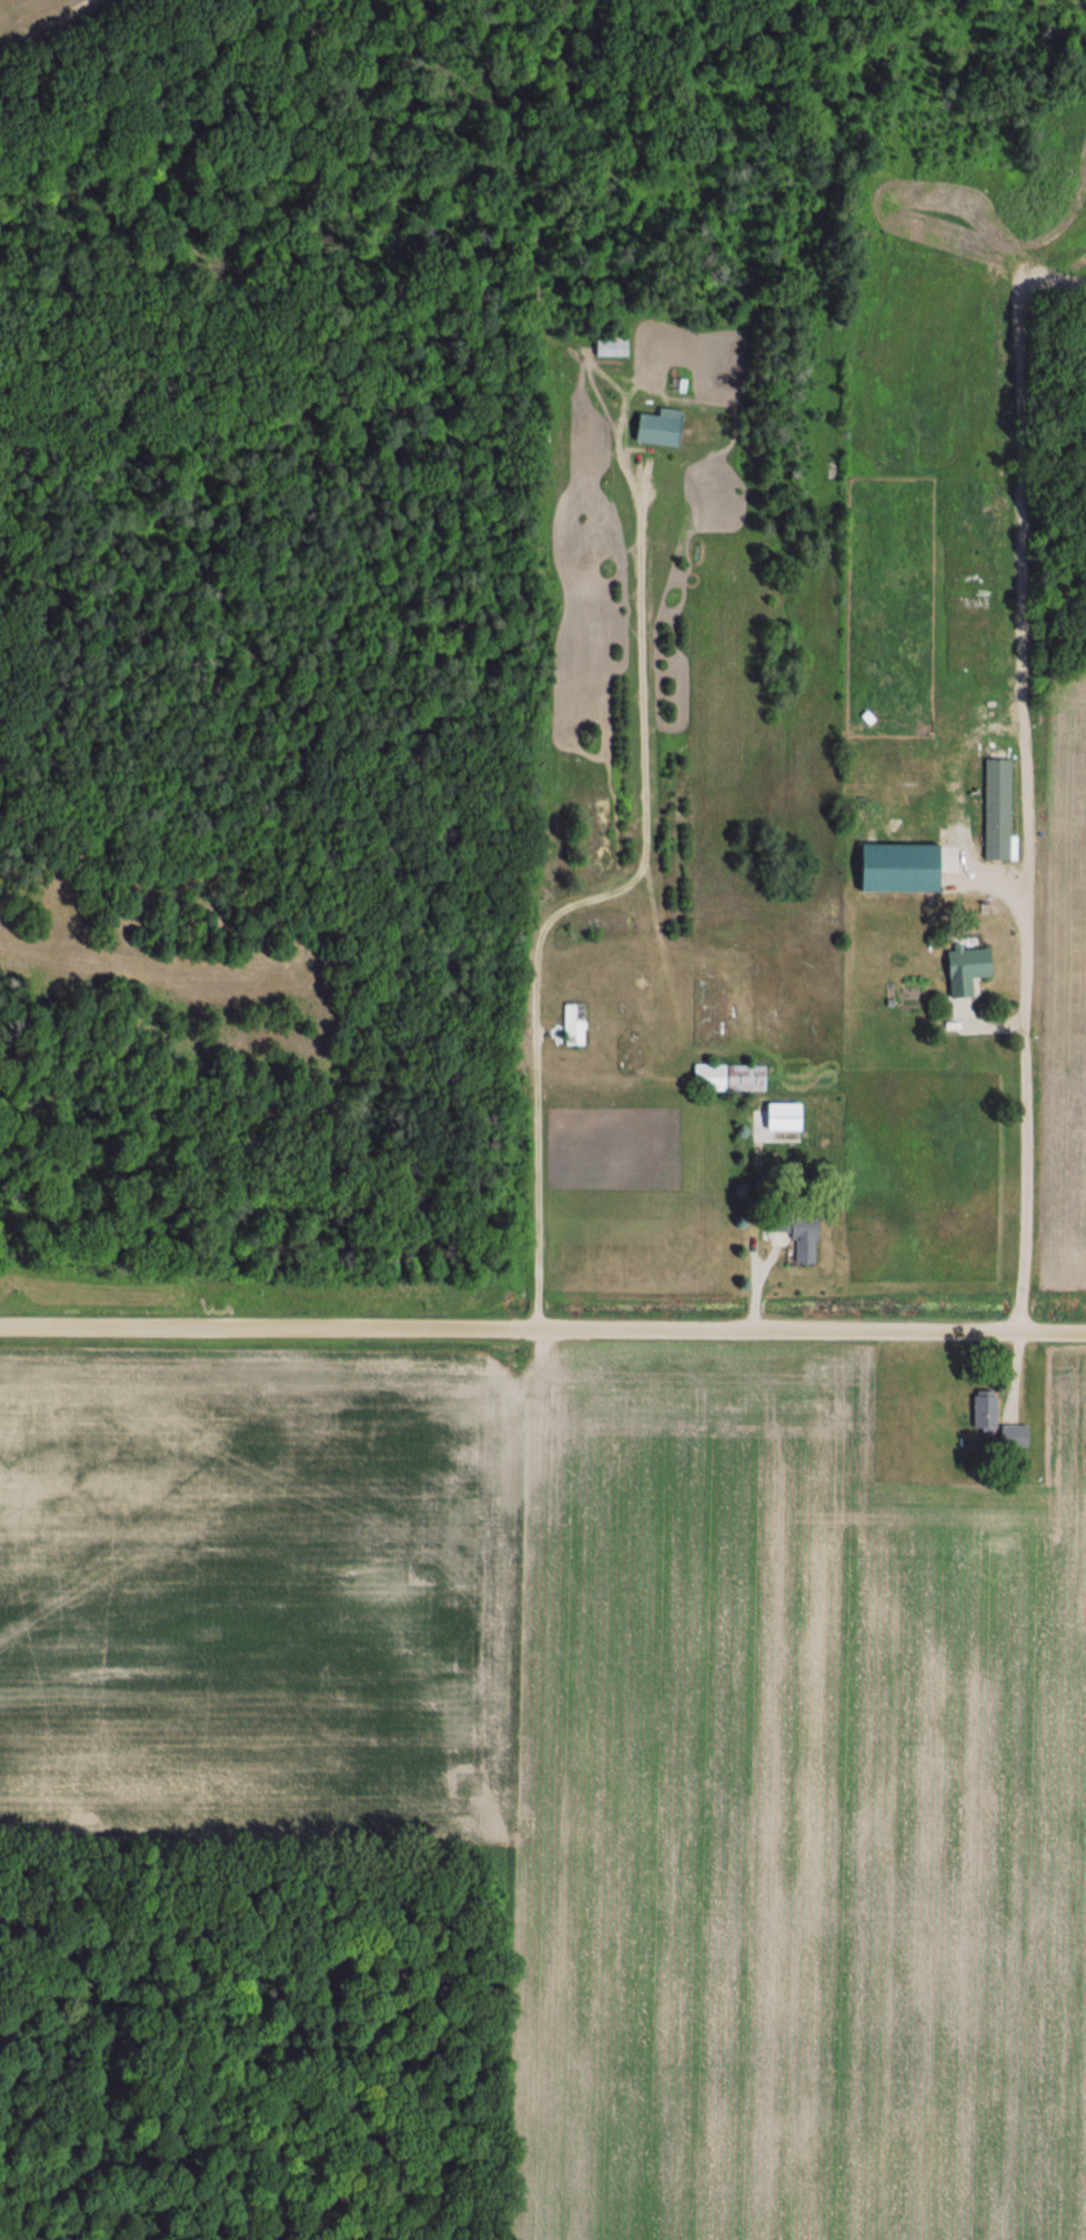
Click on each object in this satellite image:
building: (611, 348)
building: (656, 429)
building: (996, 808)
road: (1022, 950)
building: (977, 957)
building: (573, 1024)
building: (728, 1077)
building: (795, 1235)
road: (542, 1326)
building: (983, 1412)
building: (1010, 1435)

